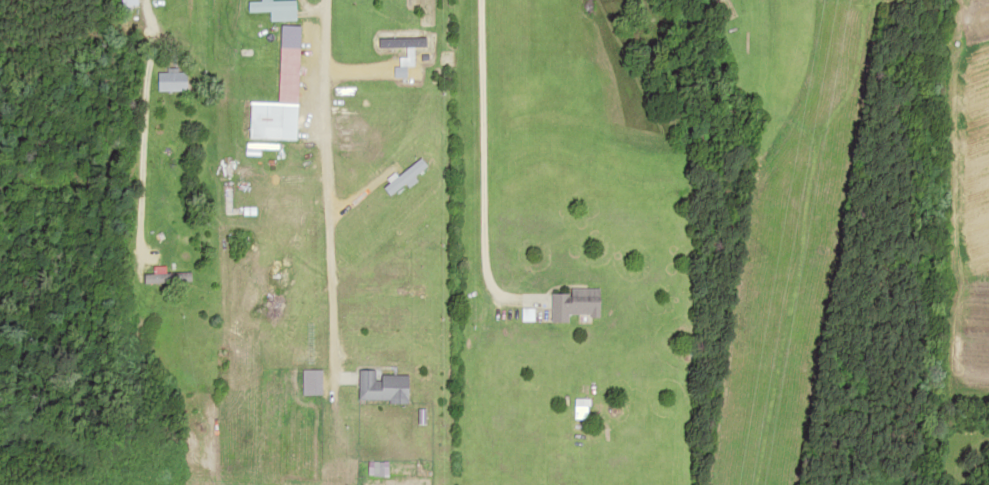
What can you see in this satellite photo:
building: (126, 2)
road: (780, 58)
building: (168, 80)
building: (271, 108)
building: (568, 303)
building: (378, 386)

